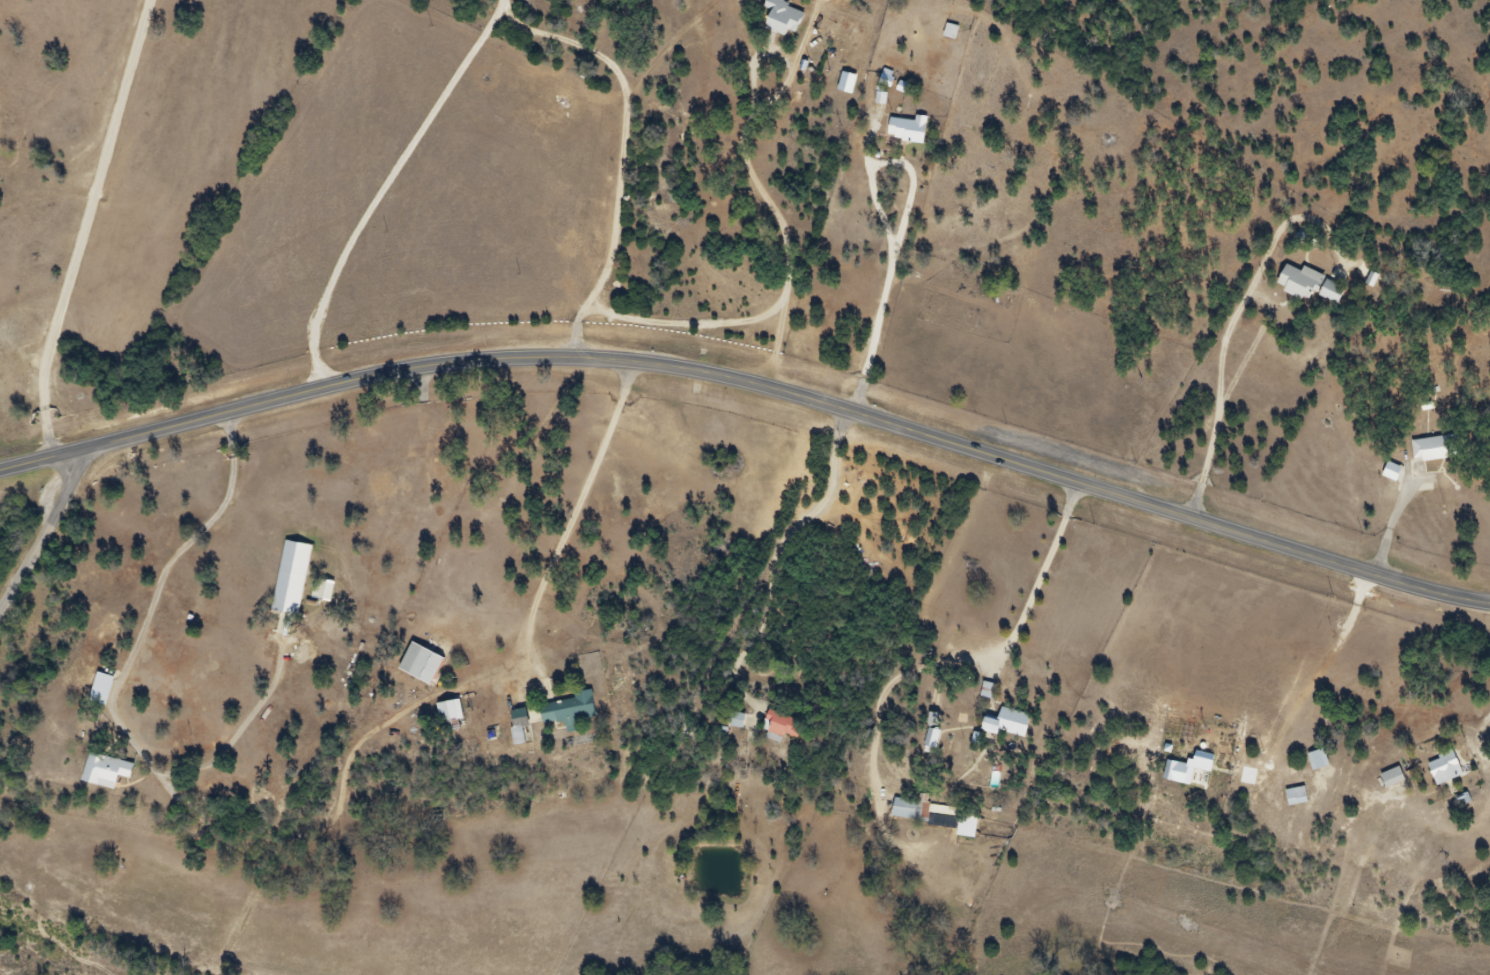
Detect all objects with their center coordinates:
building: (832, 7)
building: (773, 20)
building: (943, 35)
building: (900, 133)
road: (626, 148)
road: (387, 186)
building: (1302, 289)
road: (754, 382)
building: (1427, 453)
road: (571, 516)
road: (1392, 527)
road: (44, 538)
road: (165, 565)
building: (283, 581)
road: (173, 653)
building: (413, 667)
building: (442, 715)
building: (561, 716)
building: (732, 726)
building: (1000, 727)
building: (511, 729)
building: (774, 731)
road: (1481, 739)
building: (1310, 764)
building: (1438, 773)
building: (97, 774)
building: (1385, 782)
building: (1288, 800)
building: (903, 813)
road: (123, 825)

